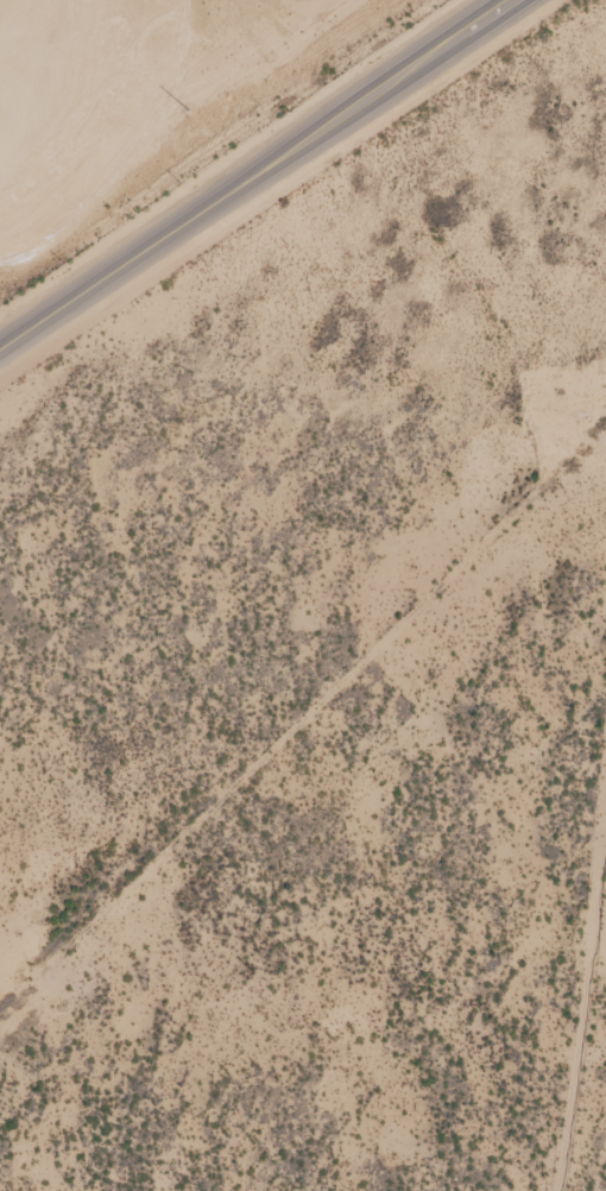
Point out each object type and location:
power tower: (190, 113)
road: (260, 176)

